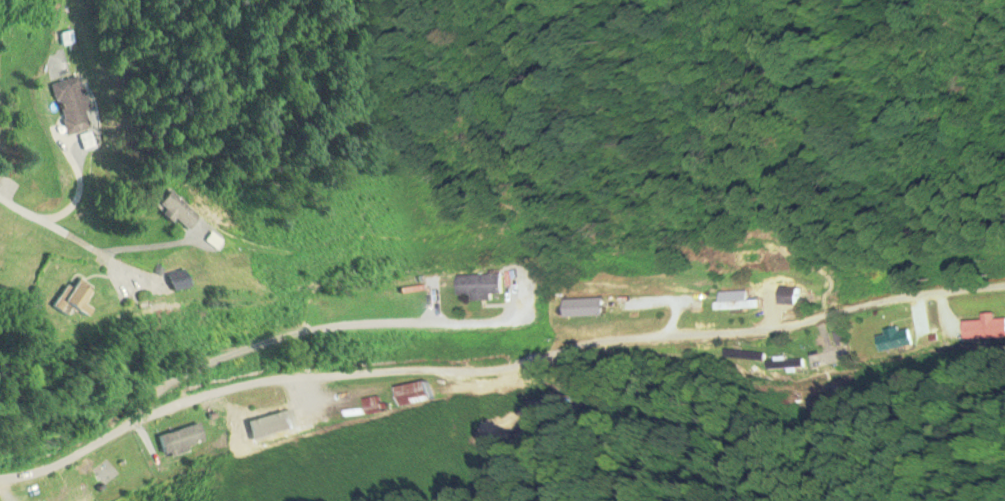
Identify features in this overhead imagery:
building: (72, 107)
building: (174, 212)
road: (70, 238)
building: (173, 281)
building: (477, 287)
building: (62, 297)
road: (503, 355)
building: (414, 395)
building: (281, 428)
building: (180, 439)

